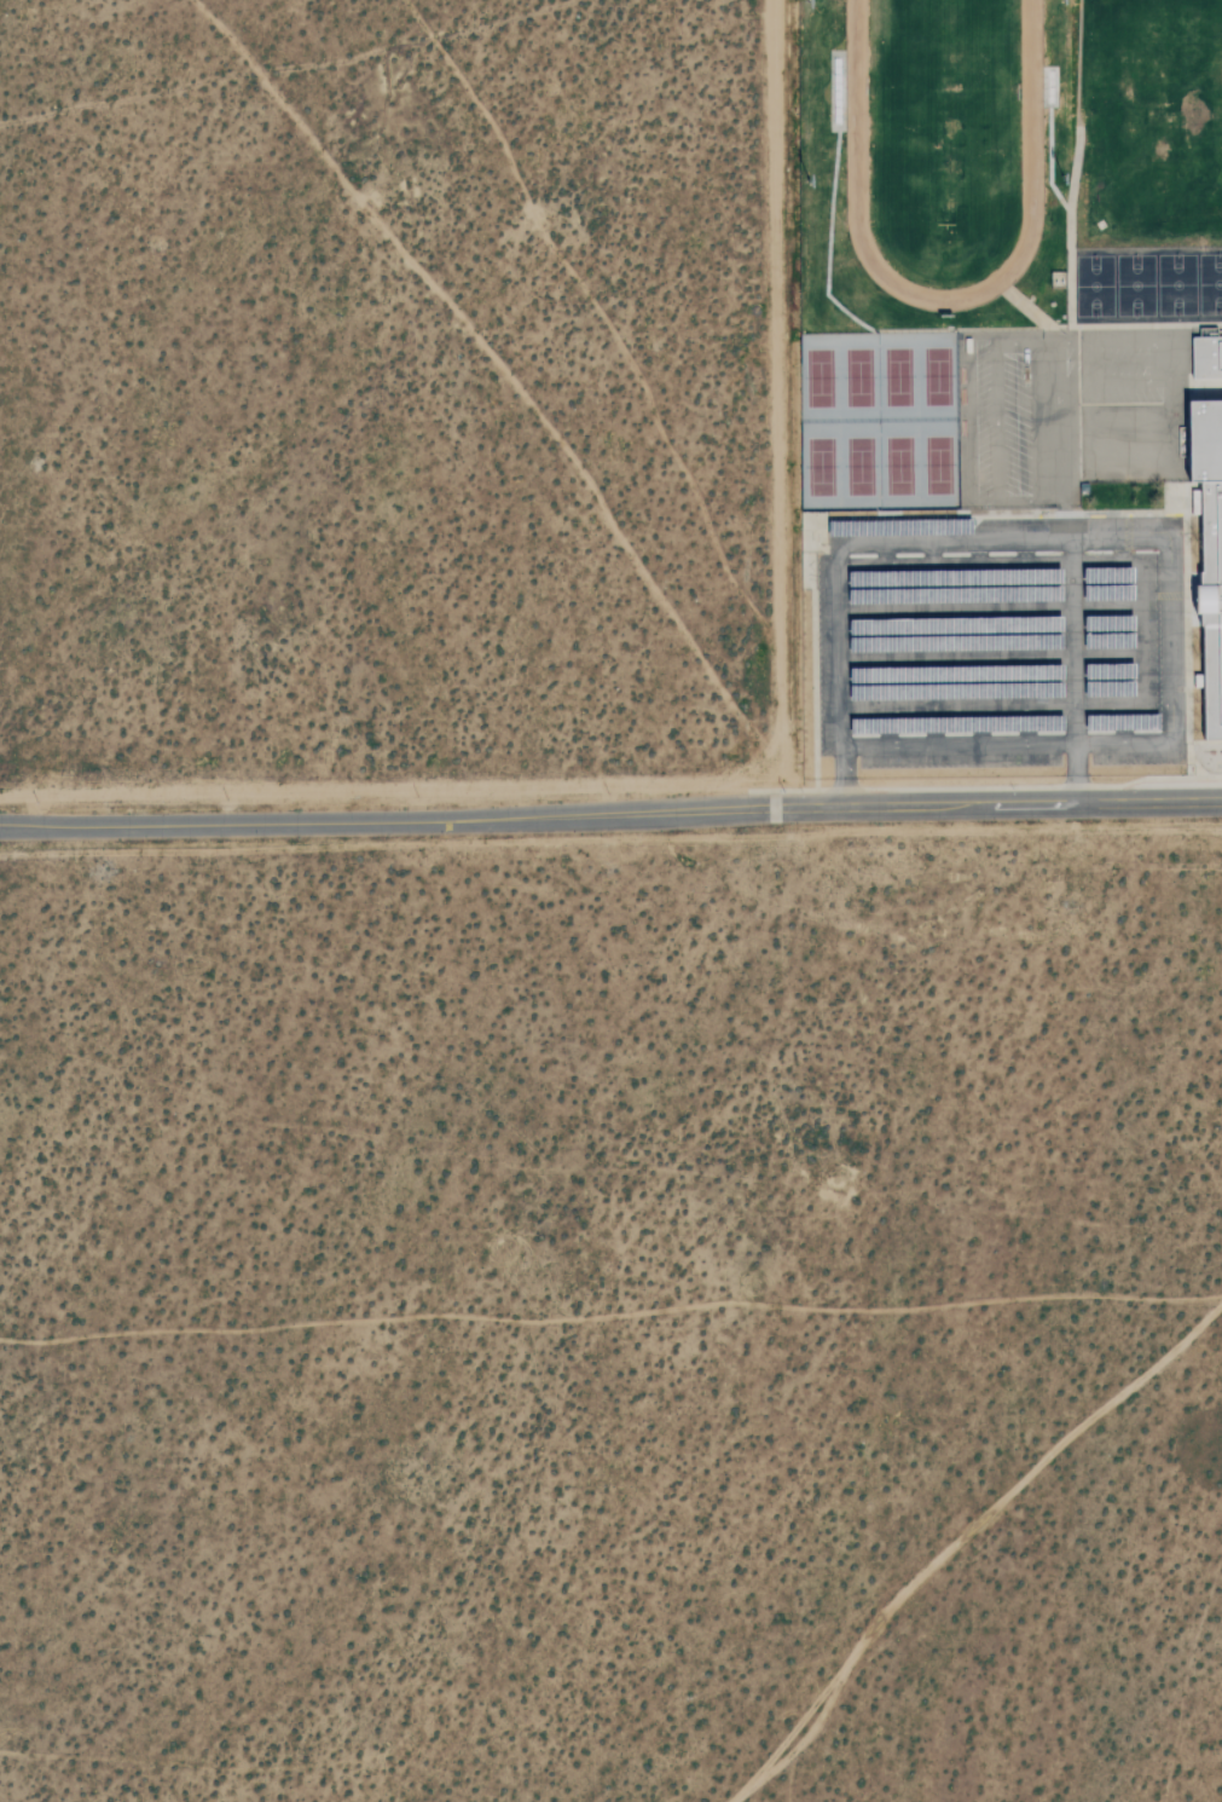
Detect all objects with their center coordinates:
park: (990, 151)
building: (1207, 357)
park: (871, 417)
road: (1170, 537)
building: (1211, 556)
road: (989, 564)
road: (989, 610)
road: (1141, 633)
road: (1070, 636)
road: (990, 658)
road: (991, 706)
road: (841, 746)
road: (1075, 773)
road: (844, 776)
road: (610, 813)

